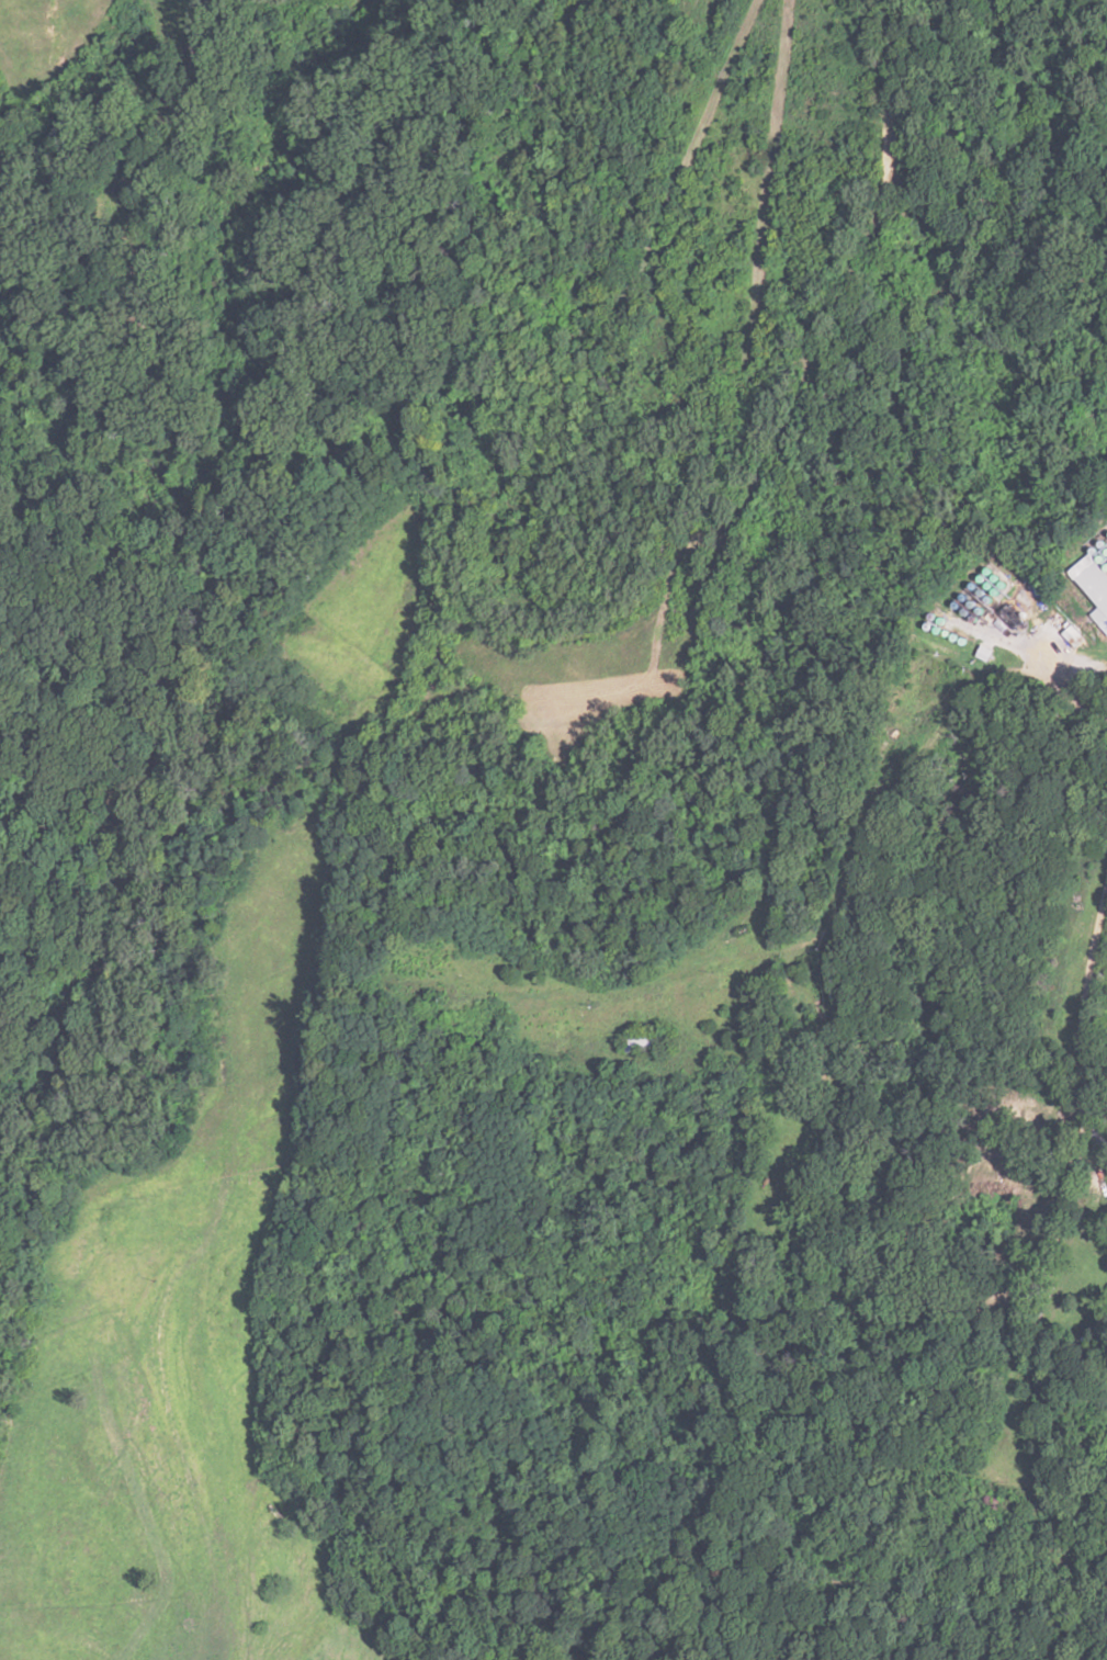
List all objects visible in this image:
building: (1094, 585)
building: (1073, 636)
road: (433, 963)
building: (648, 1040)

